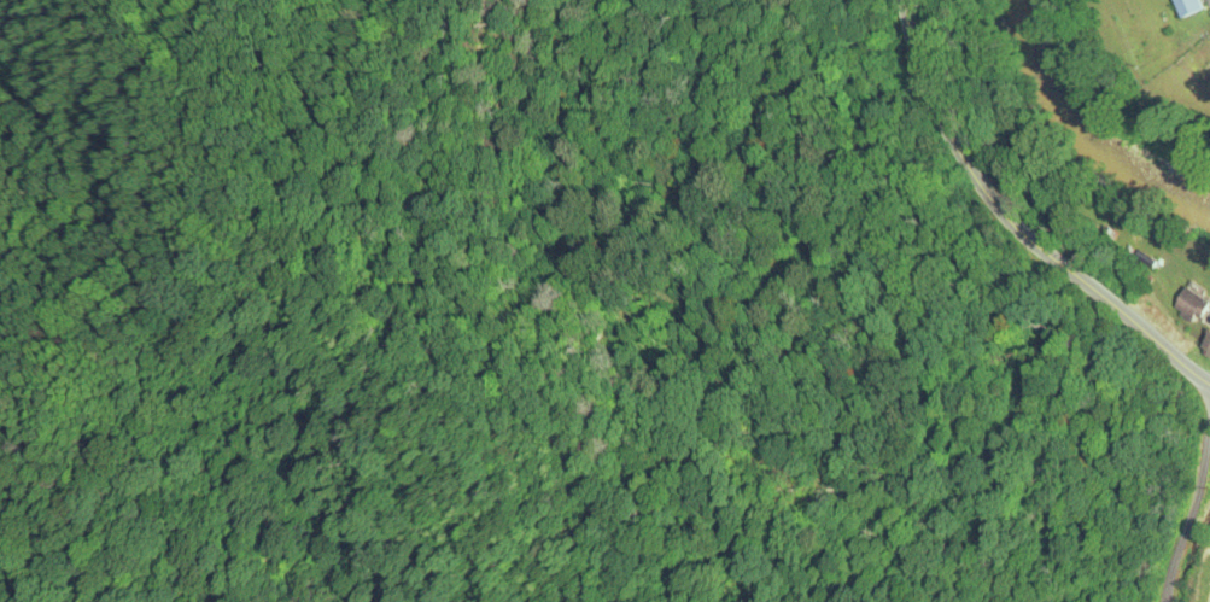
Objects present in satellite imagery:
building: (1188, 7)
river: (1074, 134)
road: (1007, 228)
building: (1188, 305)
building: (1205, 345)
road: (1182, 512)

